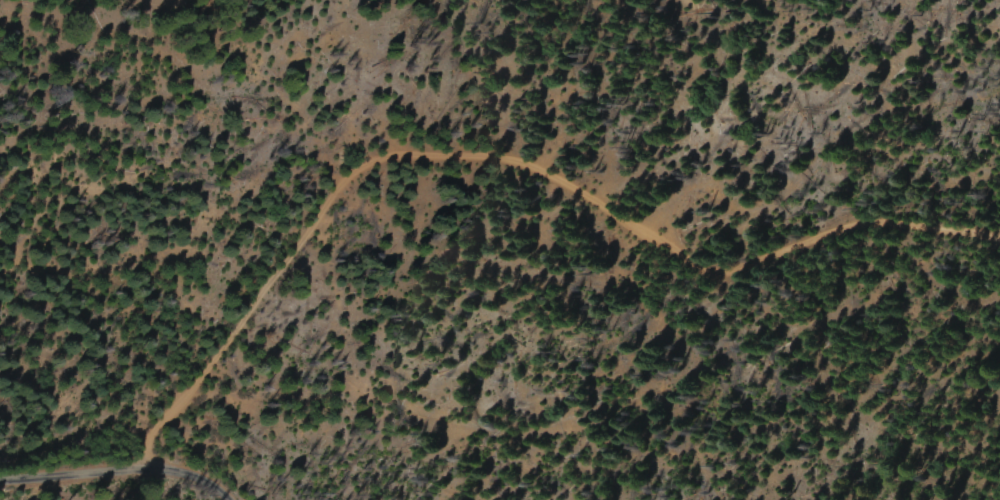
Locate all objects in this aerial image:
road: (508, 162)
road: (117, 472)

